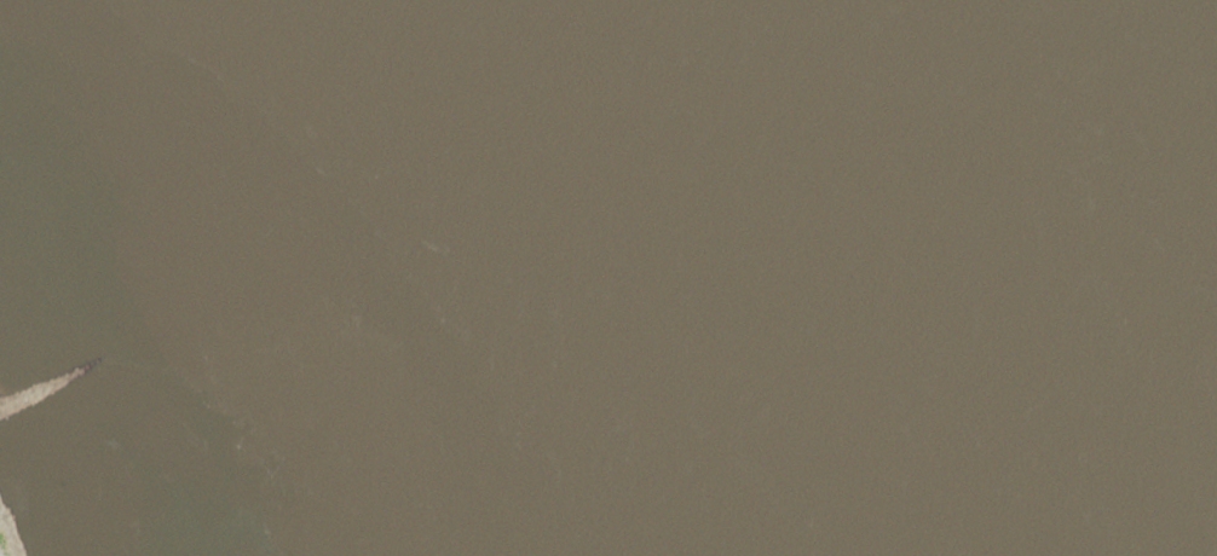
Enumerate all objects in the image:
river: (824, 276)

